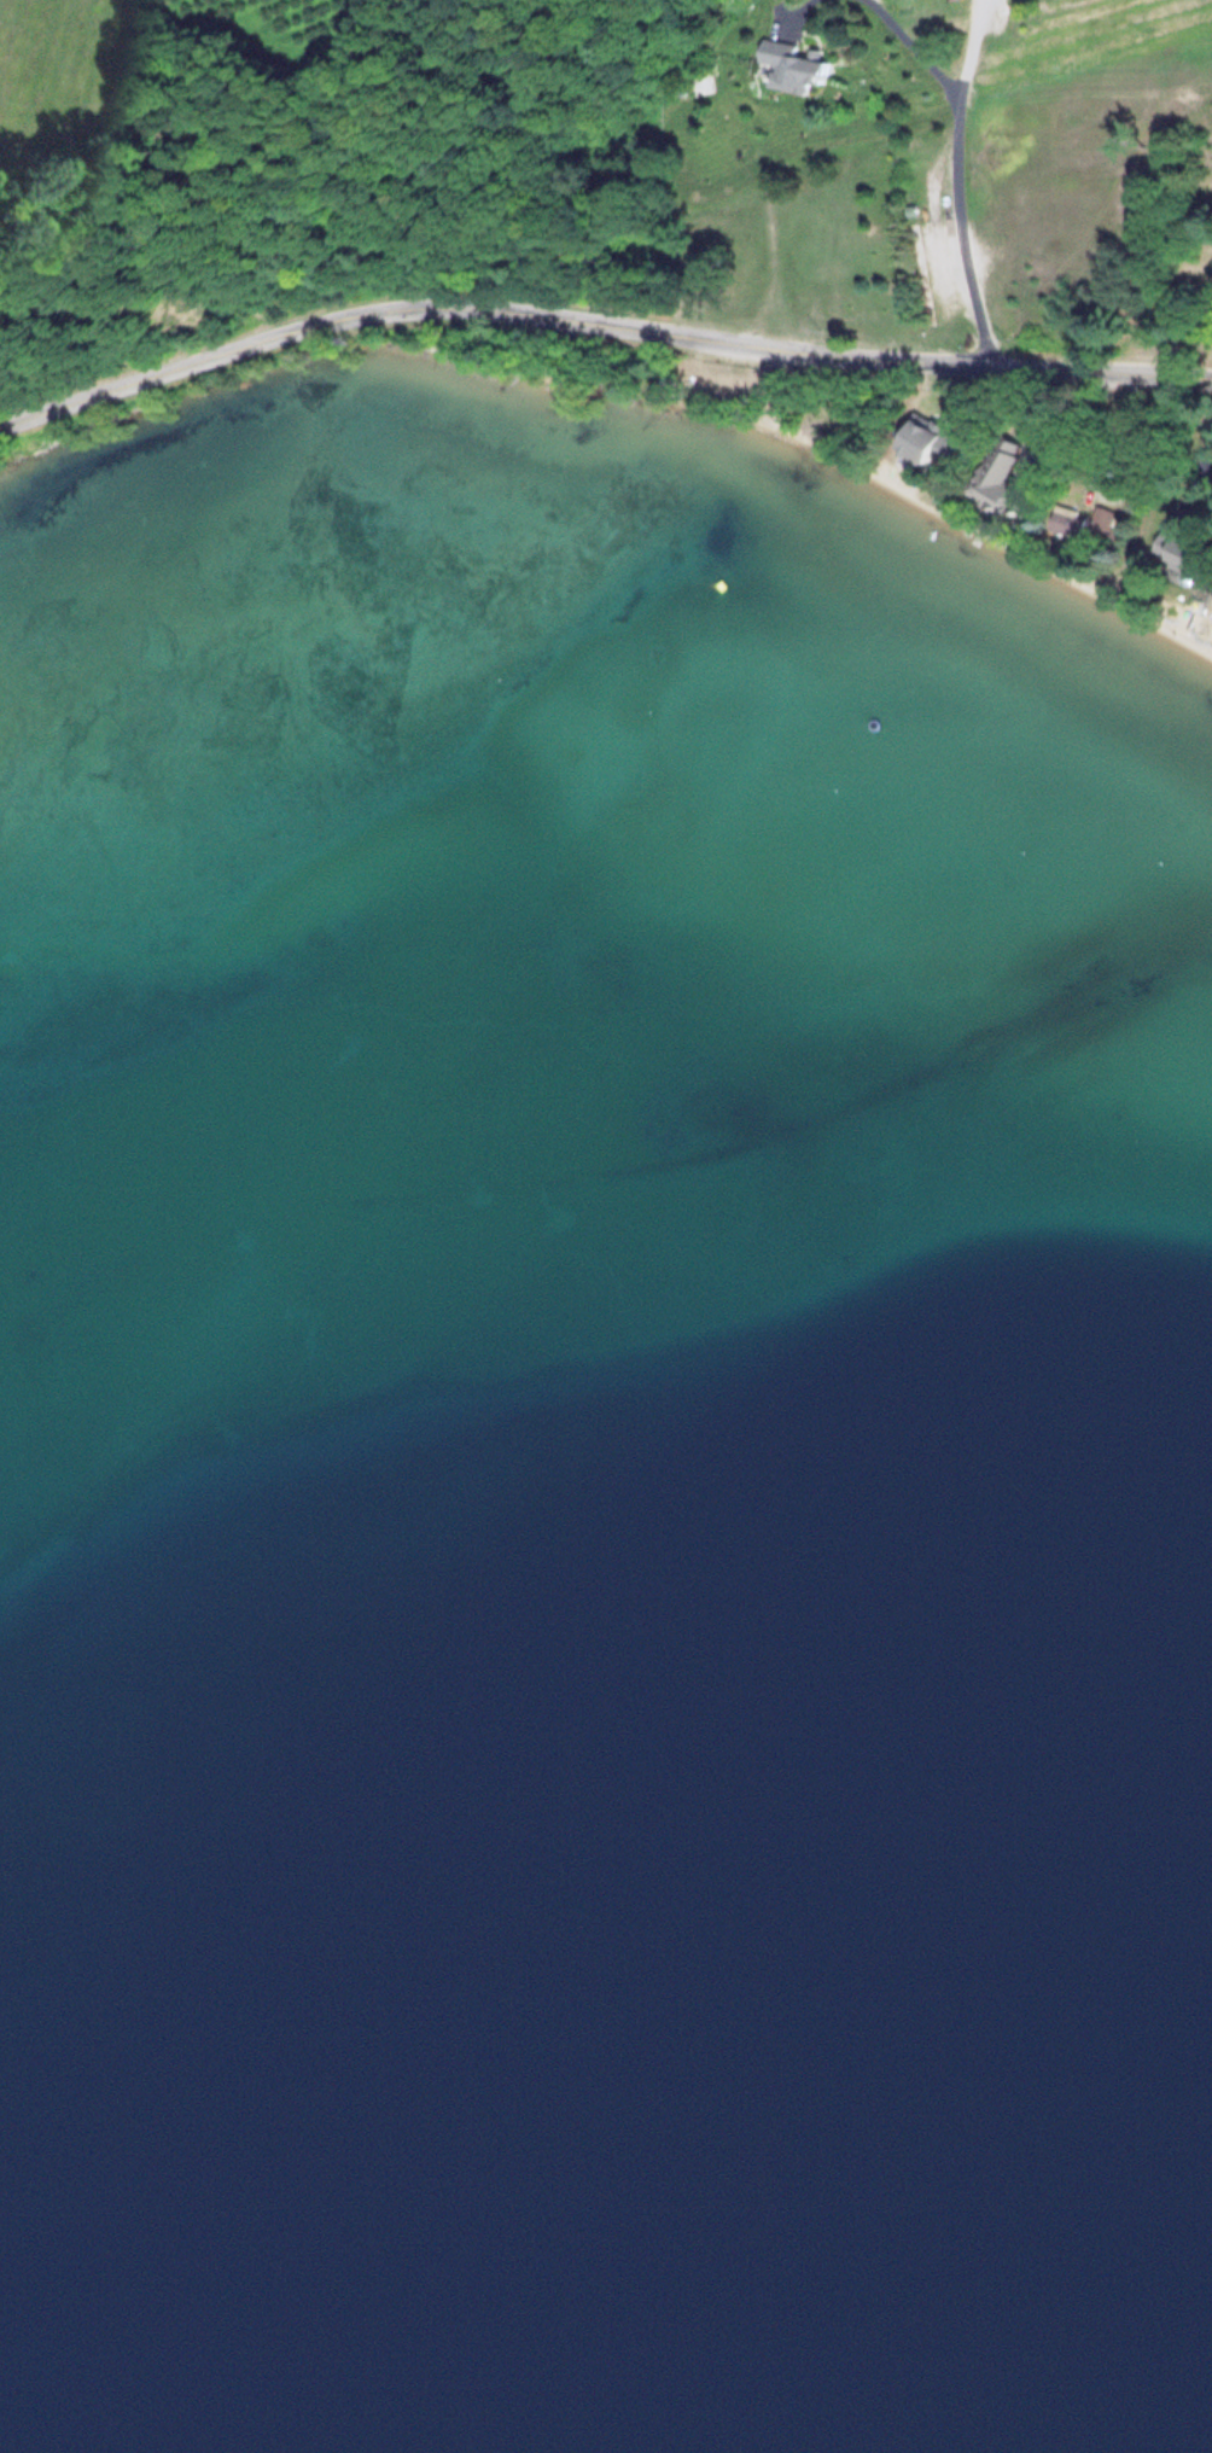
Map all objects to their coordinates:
building: (786, 65)
building: (694, 82)
road: (962, 187)
building: (1210, 270)
road: (598, 321)
building: (923, 441)
building: (998, 477)
building: (1065, 520)
building: (1172, 548)

